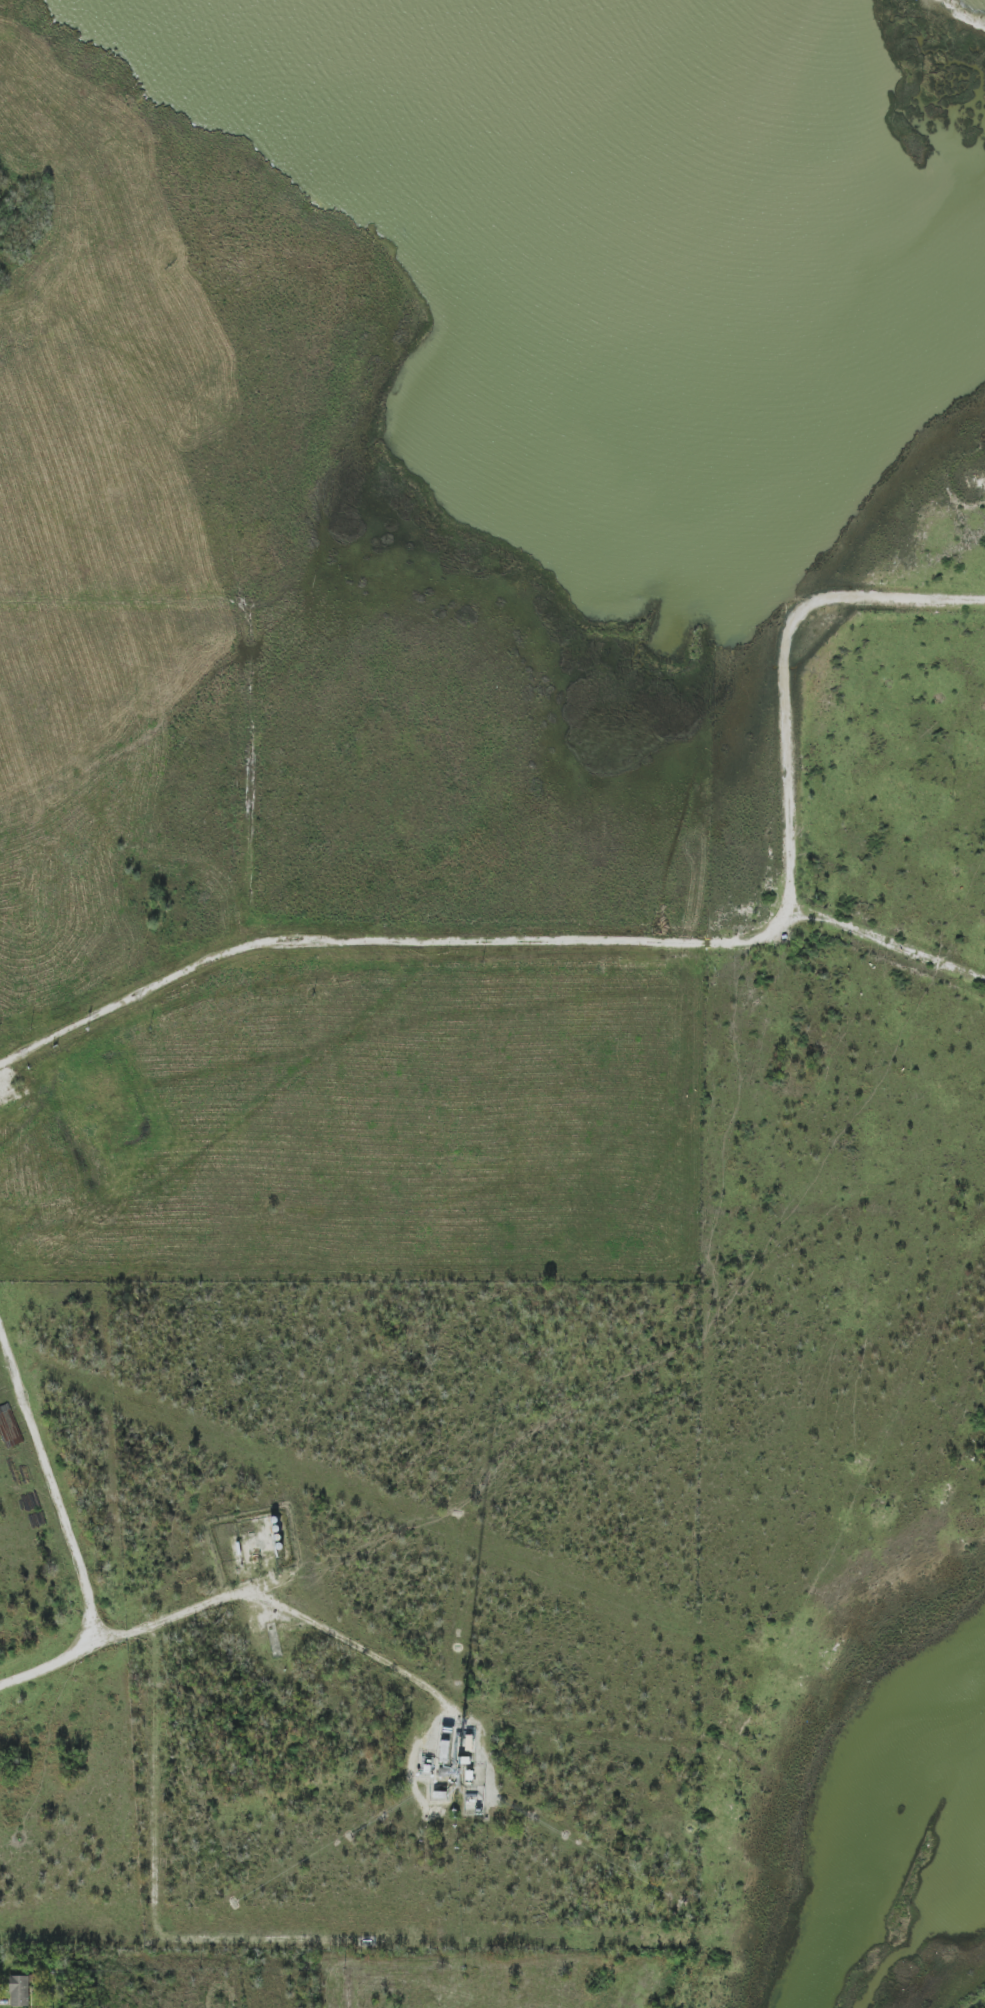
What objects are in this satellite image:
road: (633, 944)
road: (70, 1538)
road: (286, 1609)
building: (19, 1991)

